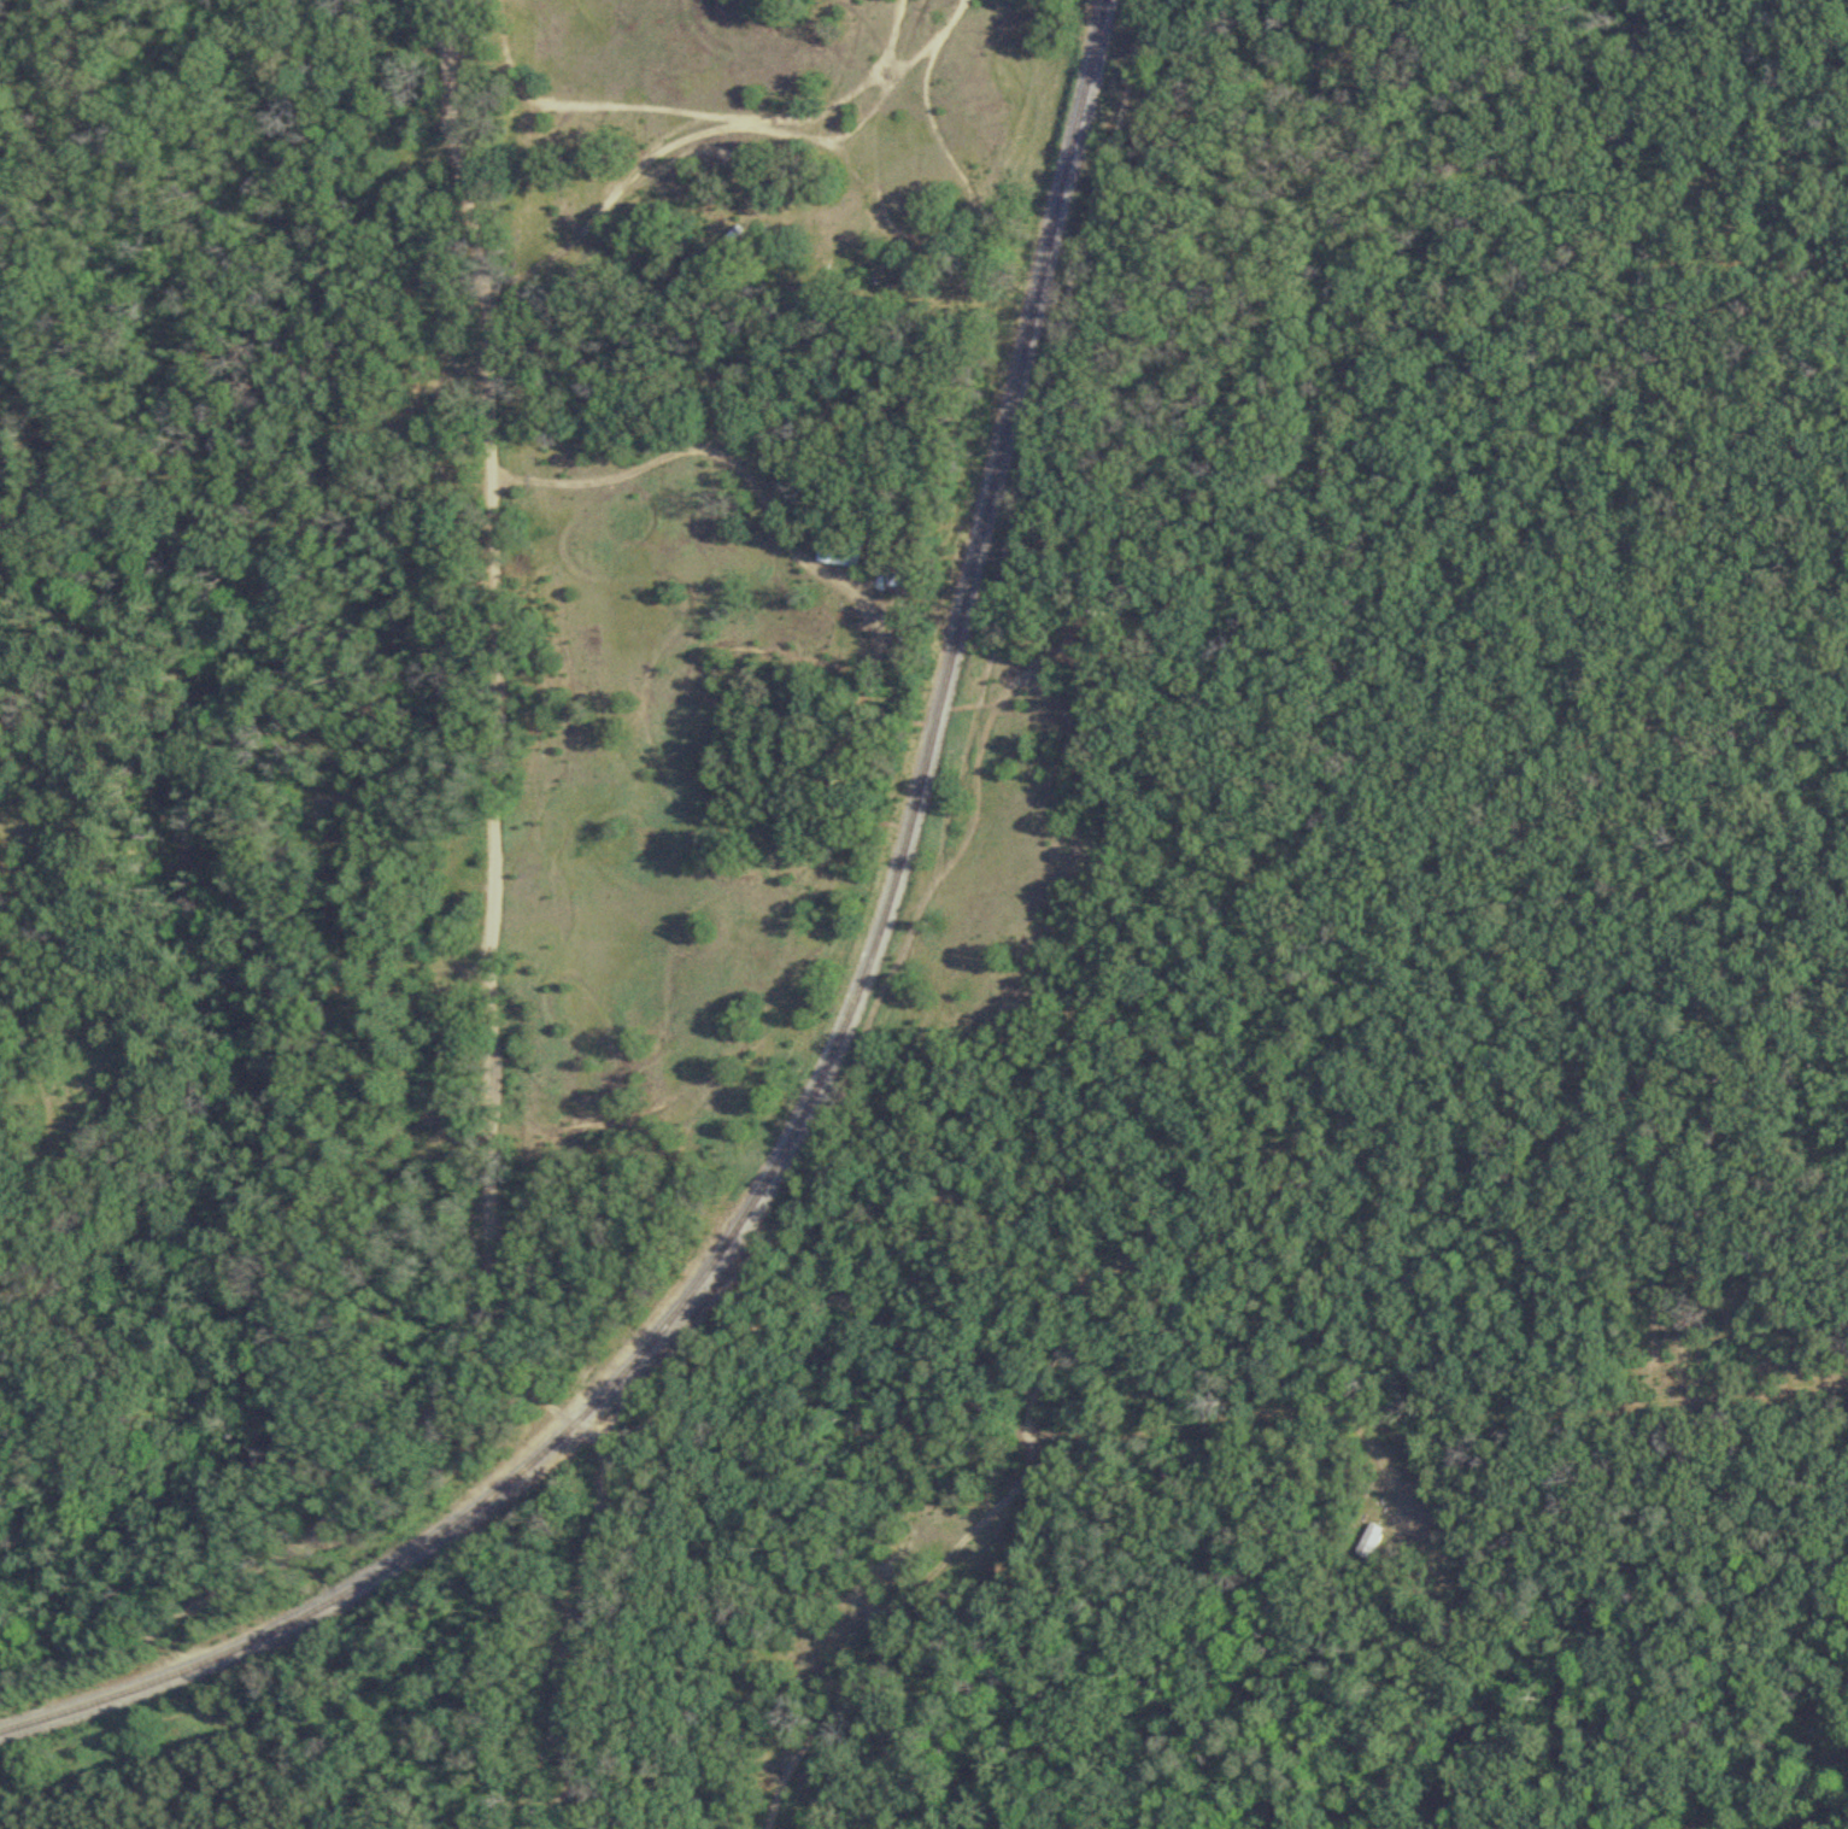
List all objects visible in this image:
road: (494, 972)
railway: (827, 1065)
road: (59, 1225)
road: (1066, 1448)
road: (605, 1488)
building: (1369, 1541)

